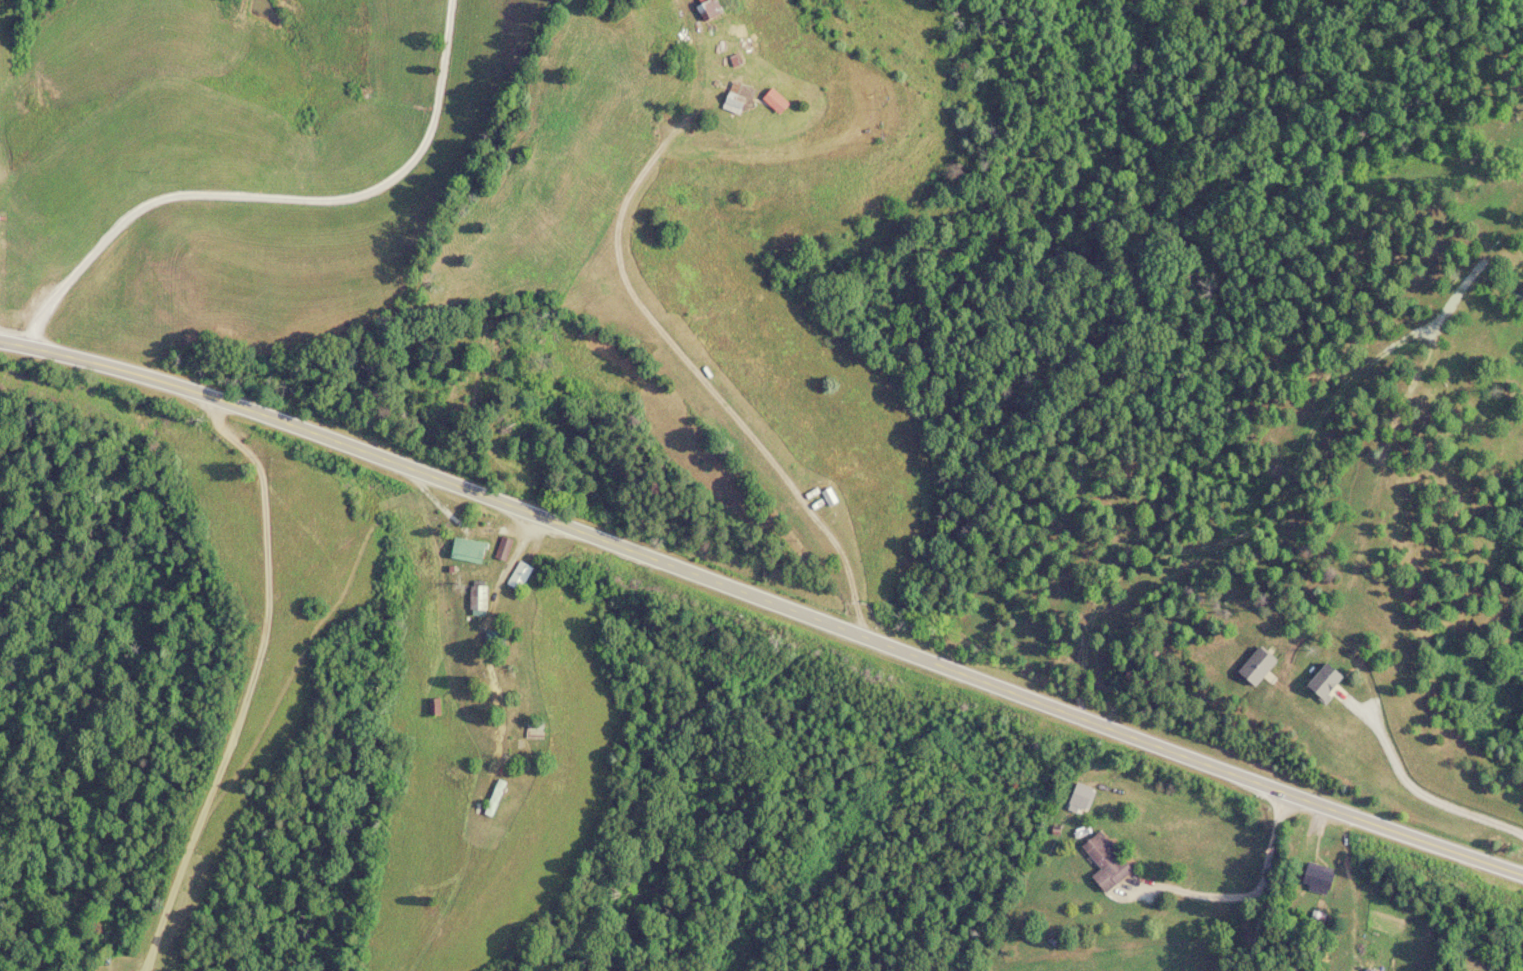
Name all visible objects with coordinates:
building: (709, 9)
building: (739, 98)
building: (775, 101)
road: (276, 198)
road: (694, 366)
building: (469, 551)
building: (520, 576)
road: (764, 600)
building: (478, 601)
building: (494, 639)
road: (253, 679)
building: (433, 708)
building: (535, 731)
building: (1107, 862)
building: (1318, 879)
road: (1263, 881)
building: (1370, 970)

